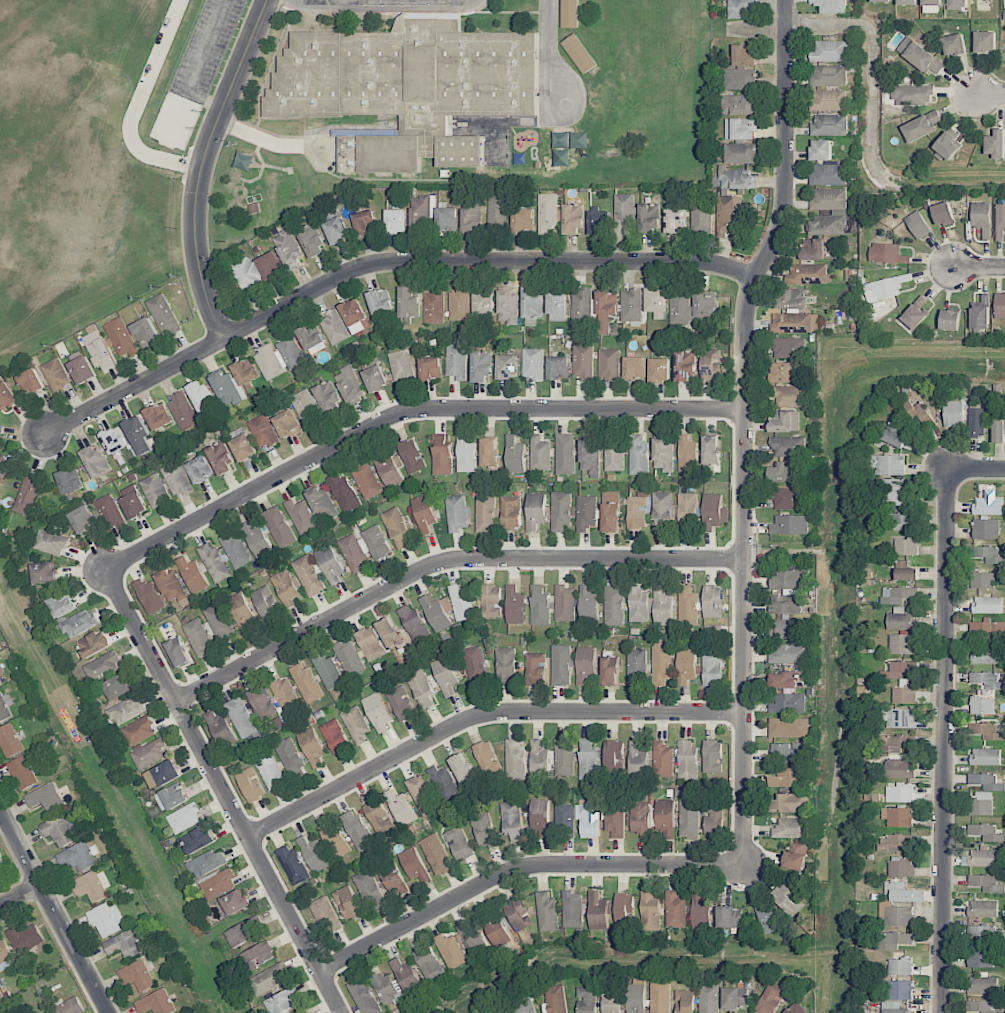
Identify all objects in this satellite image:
building: (881, 0)
building: (988, 0)
building: (907, 2)
building: (932, 2)
road: (386, 4)
building: (956, 4)
building: (830, 6)
building: (741, 8)
building: (570, 14)
building: (985, 41)
building: (954, 44)
building: (829, 51)
road: (548, 52)
building: (579, 53)
building: (920, 56)
building: (741, 68)
road: (196, 71)
building: (829, 75)
building: (404, 83)
road: (990, 93)
building: (912, 94)
building: (828, 100)
road: (205, 102)
building: (736, 105)
road: (136, 106)
building: (829, 124)
building: (921, 126)
building: (562, 140)
building: (740, 140)
road: (274, 143)
building: (996, 143)
building: (948, 145)
building: (821, 150)
building: (461, 152)
building: (561, 158)
road: (202, 165)
building: (828, 174)
building: (737, 179)
building: (497, 210)
building: (420, 212)
building: (547, 212)
building: (624, 212)
building: (839, 212)
building: (943, 214)
building: (728, 215)
building: (471, 217)
building: (701, 217)
building: (981, 218)
building: (523, 219)
building: (572, 219)
building: (649, 219)
building: (447, 220)
building: (677, 220)
building: (395, 221)
building: (1000, 221)
building: (365, 222)
building: (599, 222)
building: (917, 224)
building: (336, 230)
building: (310, 238)
building: (288, 248)
building: (813, 249)
building: (887, 253)
road: (382, 262)
building: (270, 265)
road: (979, 268)
building: (246, 273)
building: (808, 274)
building: (885, 287)
building: (791, 299)
building: (380, 301)
building: (483, 302)
building: (655, 302)
building: (408, 303)
building: (459, 304)
building: (583, 304)
building: (705, 304)
building: (531, 305)
building: (557, 305)
building: (631, 305)
building: (1000, 305)
building: (434, 306)
building: (508, 307)
building: (681, 308)
building: (606, 309)
building: (981, 311)
building: (164, 314)
building: (354, 316)
building: (914, 316)
building: (950, 320)
building: (795, 323)
building: (334, 327)
building: (145, 332)
building: (121, 338)
building: (312, 338)
building: (789, 347)
building: (100, 351)
building: (279, 357)
building: (456, 361)
building: (583, 362)
building: (533, 364)
building: (609, 364)
building: (711, 364)
building: (685, 365)
building: (401, 366)
building: (481, 366)
building: (507, 367)
building: (558, 367)
building: (635, 367)
building: (430, 368)
building: (82, 369)
building: (659, 370)
building: (783, 372)
building: (247, 374)
building: (56, 375)
building: (375, 378)
building: (31, 382)
building: (349, 384)
building: (227, 388)
building: (7, 396)
building: (201, 396)
building: (790, 396)
building: (327, 397)
building: (305, 406)
building: (183, 411)
building: (919, 413)
building: (953, 413)
road: (406, 414)
building: (157, 416)
building: (784, 421)
building: (976, 422)
building: (287, 424)
building: (1, 429)
road: (745, 429)
building: (263, 431)
building: (998, 431)
building: (138, 434)
building: (894, 435)
building: (114, 439)
building: (788, 446)
building: (710, 450)
building: (489, 452)
building: (539, 453)
building: (565, 454)
building: (663, 454)
building: (687, 454)
building: (411, 455)
building: (442, 455)
building: (466, 455)
building: (515, 455)
building: (614, 455)
building: (638, 455)
building: (589, 456)
building: (220, 458)
building: (95, 461)
building: (887, 465)
building: (5, 467)
building: (199, 469)
building: (390, 469)
road: (976, 469)
building: (784, 472)
building: (70, 481)
building: (366, 481)
building: (155, 490)
building: (343, 491)
building: (27, 495)
building: (894, 496)
building: (787, 498)
building: (133, 501)
building: (322, 503)
building: (988, 504)
building: (638, 509)
building: (535, 511)
building: (560, 511)
building: (610, 511)
building: (687, 511)
building: (713, 511)
building: (110, 512)
building: (457, 512)
building: (511, 512)
building: (586, 512)
building: (661, 512)
building: (486, 513)
building: (424, 514)
building: (300, 516)
building: (82, 519)
building: (897, 521)
building: (790, 524)
building: (279, 526)
building: (397, 528)
building: (986, 529)
building: (257, 538)
building: (50, 542)
building: (906, 546)
building: (364, 547)
building: (235, 550)
building: (988, 554)
building: (213, 562)
building: (330, 563)
road: (443, 563)
building: (906, 571)
building: (43, 572)
building: (192, 574)
building: (308, 575)
building: (791, 579)
building: (982, 580)
building: (170, 585)
building: (285, 587)
building: (898, 594)
building: (149, 596)
building: (491, 601)
building: (712, 601)
building: (265, 602)
building: (462, 603)
building: (565, 603)
building: (589, 604)
building: (785, 604)
building: (515, 605)
building: (540, 605)
building: (614, 605)
building: (640, 605)
building: (687, 605)
building: (987, 605)
building: (61, 606)
building: (662, 607)
building: (241, 611)
building: (438, 612)
building: (901, 619)
building: (218, 621)
building: (80, 623)
building: (414, 624)
building: (787, 628)
building: (987, 630)
building: (388, 631)
building: (198, 636)
building: (95, 643)
building: (369, 644)
building: (902, 644)
building: (178, 651)
building: (789, 653)
building: (985, 655)
building: (348, 657)
building: (505, 662)
building: (661, 663)
building: (561, 664)
building: (585, 664)
building: (686, 665)
building: (102, 666)
building: (636, 666)
building: (475, 667)
building: (535, 668)
building: (1, 669)
building: (712, 669)
building: (898, 669)
building: (327, 671)
building: (609, 671)
building: (445, 675)
building: (784, 680)
building: (987, 680)
building: (0, 682)
building: (305, 682)
building: (117, 687)
building: (422, 689)
building: (283, 692)
building: (904, 693)
building: (261, 702)
building: (401, 703)
building: (788, 703)
building: (982, 705)
building: (5, 707)
building: (125, 711)
building: (377, 712)
building: (241, 717)
road: (481, 717)
building: (901, 718)
building: (356, 724)
building: (789, 727)
building: (220, 729)
building: (138, 731)
building: (987, 731)
building: (335, 736)
building: (10, 741)
road: (944, 741)
building: (896, 743)
building: (312, 747)
building: (787, 752)
building: (148, 753)
building: (614, 754)
building: (289, 755)
building: (712, 756)
building: (985, 756)
building: (486, 758)
building: (564, 758)
building: (637, 758)
building: (515, 759)
building: (539, 759)
building: (588, 760)
building: (662, 760)
building: (687, 760)
building: (462, 767)
building: (901, 769)
building: (24, 772)
building: (271, 772)
building: (162, 774)
building: (789, 778)
building: (986, 781)
building: (444, 782)
building: (251, 784)
road: (223, 791)
building: (900, 792)
building: (423, 795)
building: (171, 796)
building: (45, 797)
building: (790, 803)
building: (980, 804)
building: (400, 807)
building: (714, 815)
building: (378, 816)
building: (184, 817)
building: (540, 817)
building: (663, 817)
building: (899, 817)
building: (689, 818)
building: (511, 819)
building: (589, 819)
building: (640, 819)
building: (565, 821)
building: (616, 821)
building: (791, 828)
building: (61, 829)
building: (356, 830)
building: (484, 831)
building: (986, 832)
building: (334, 839)
building: (199, 840)
building: (894, 842)
building: (459, 843)
building: (314, 854)
building: (436, 854)
building: (79, 856)
building: (796, 857)
building: (983, 857)
building: (207, 863)
building: (293, 864)
building: (2, 865)
building: (414, 865)
building: (902, 866)
road: (520, 869)
building: (392, 879)
building: (986, 883)
building: (218, 884)
building: (92, 886)
building: (369, 889)
building: (903, 892)
road: (19, 894)
building: (788, 899)
building: (234, 902)
building: (347, 903)
building: (983, 908)
building: (572, 909)
building: (624, 909)
building: (649, 910)
building: (675, 910)
road: (54, 911)
building: (598, 911)
building: (547, 912)
building: (701, 912)
building: (517, 913)
building: (324, 914)
building: (767, 915)
building: (900, 915)
building: (730, 916)
building: (107, 919)
building: (497, 930)
building: (980, 931)
building: (243, 932)
building: (471, 936)
building: (25, 937)
building: (896, 940)
building: (128, 943)
building: (450, 951)
building: (979, 955)
building: (5, 956)
building: (256, 956)
building: (428, 962)
building: (901, 964)
building: (137, 975)
building: (406, 975)
building: (268, 979)
building: (982, 984)
building: (386, 988)
building: (899, 990)
building: (364, 995)
building: (636, 995)
building: (660, 997)
building: (709, 998)
building: (735, 998)
building: (771, 998)
building: (556, 999)
building: (586, 1000)
building: (611, 1000)
building: (282, 1001)
building: (684, 1001)
building: (156, 1002)
building: (68, 1006)
building: (893, 1007)
building: (982, 1007)
building: (524, 1009)
building: (306, 1011)
building: (497, 1011)

